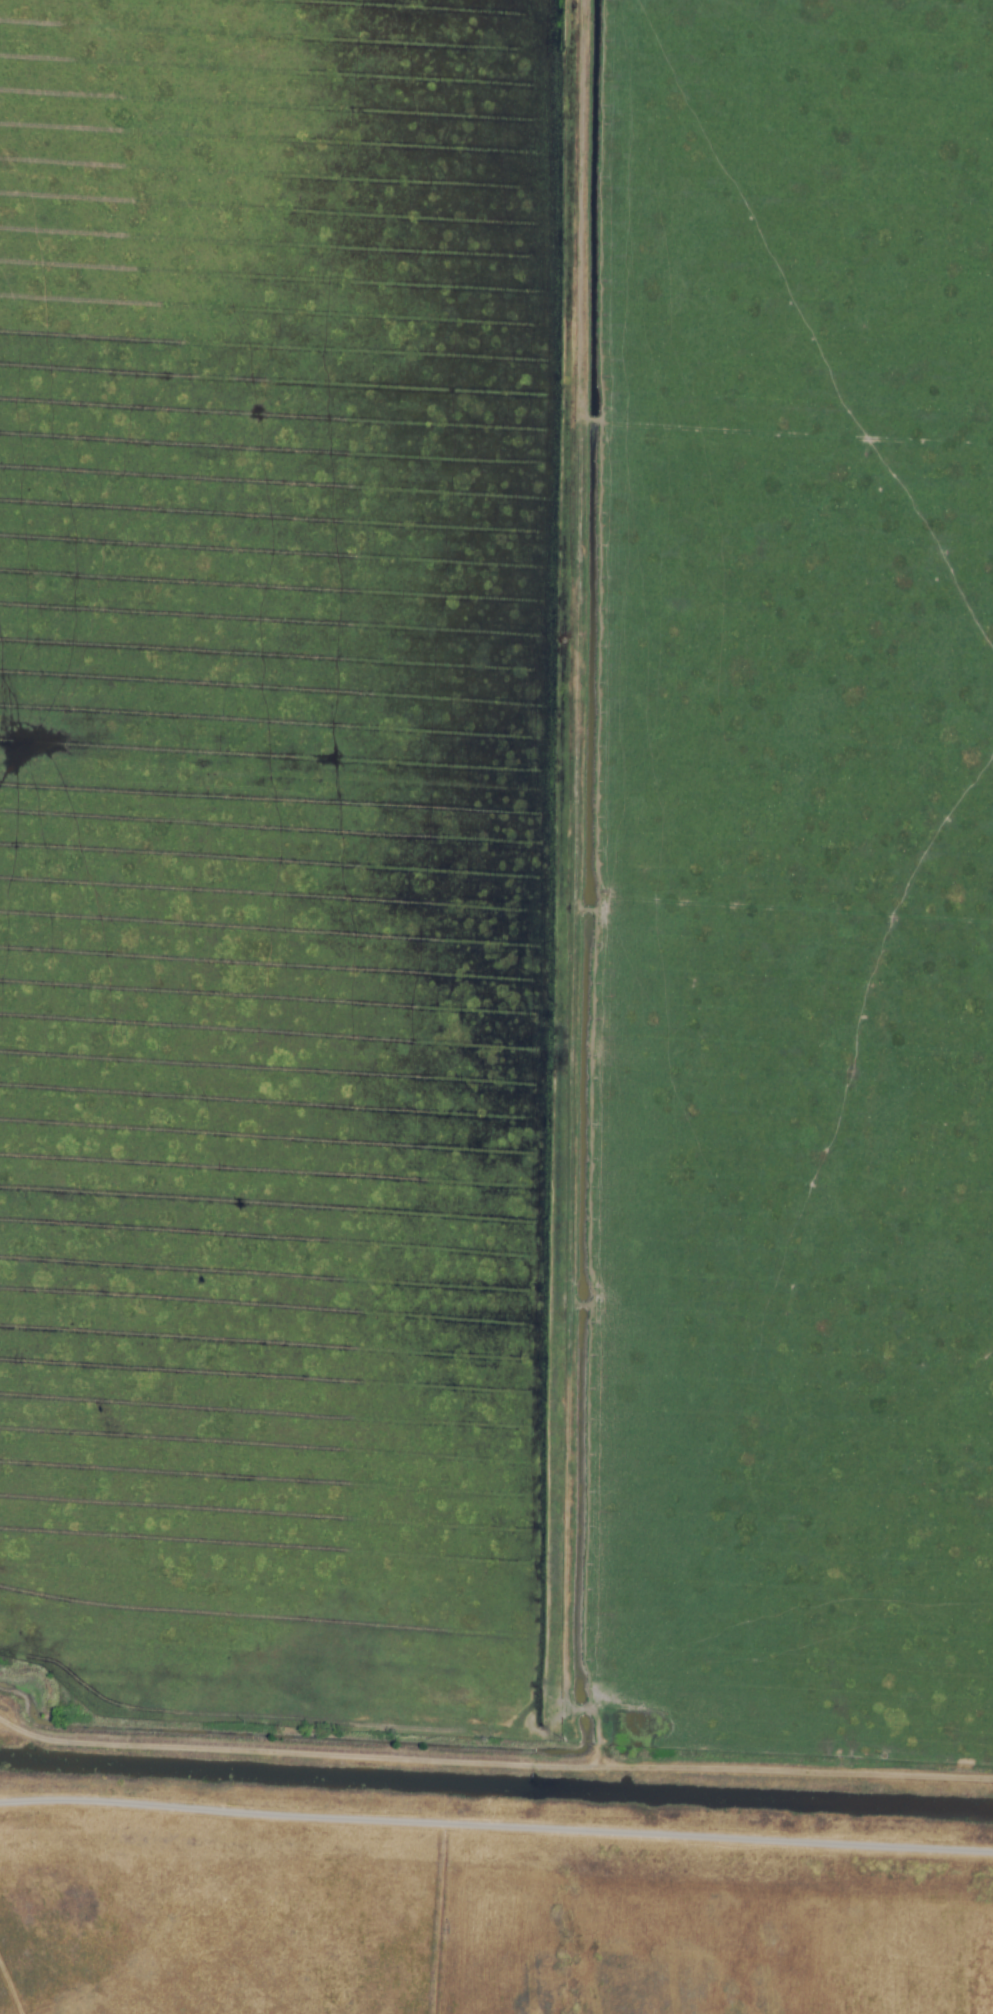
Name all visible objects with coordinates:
road: (496, 1829)
road: (9, 1990)

